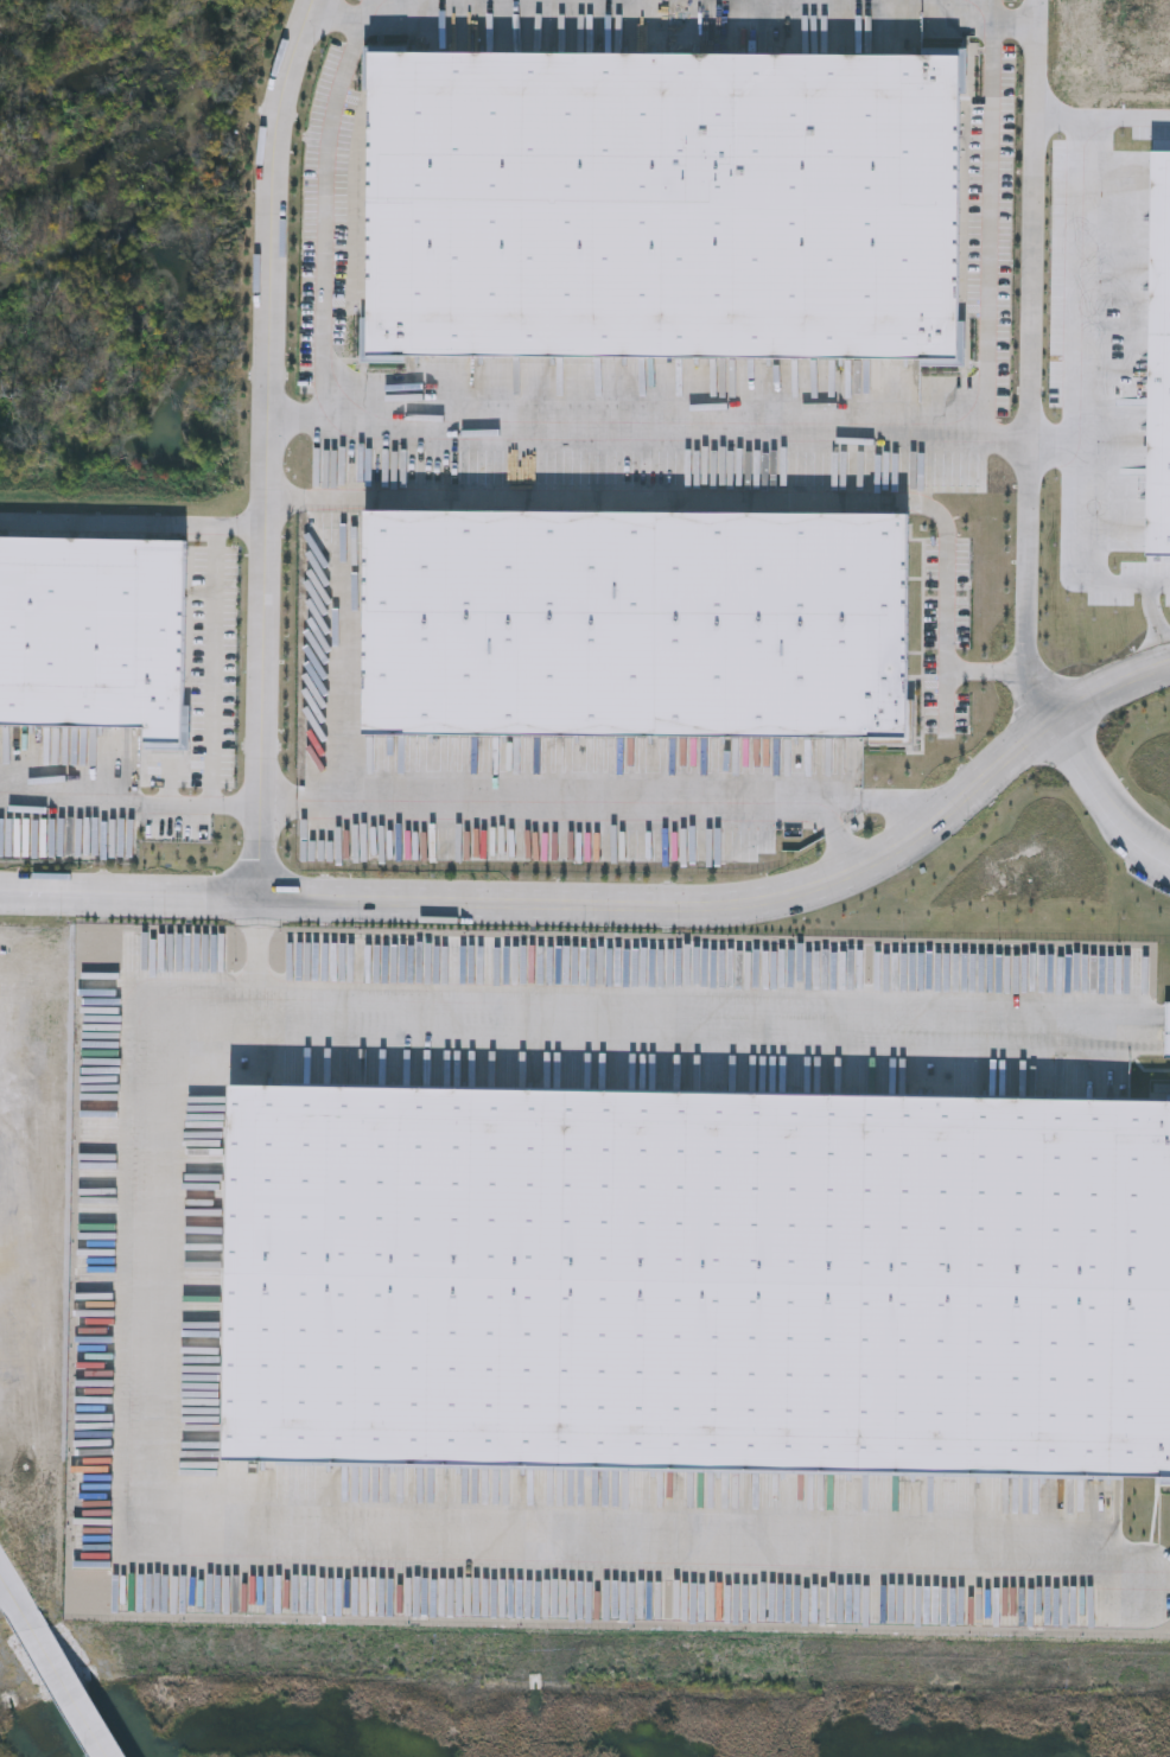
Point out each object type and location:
road: (336, 15)
road: (1015, 21)
road: (1102, 116)
building: (665, 202)
road: (326, 205)
road: (991, 215)
road: (1030, 363)
building: (1157, 364)
road: (1074, 393)
road: (650, 421)
road: (1051, 444)
road: (268, 446)
road: (716, 501)
road: (110, 528)
road: (1155, 623)
building: (635, 624)
building: (93, 626)
road: (220, 645)
road: (987, 670)
road: (1106, 791)
road: (600, 801)
road: (132, 807)
road: (838, 834)
road: (619, 904)
road: (261, 957)
road: (1168, 1030)
building: (1166, 1032)
road: (158, 1281)
building: (698, 1285)
road: (1, 1575)
road: (9, 1586)
road: (66, 1680)

